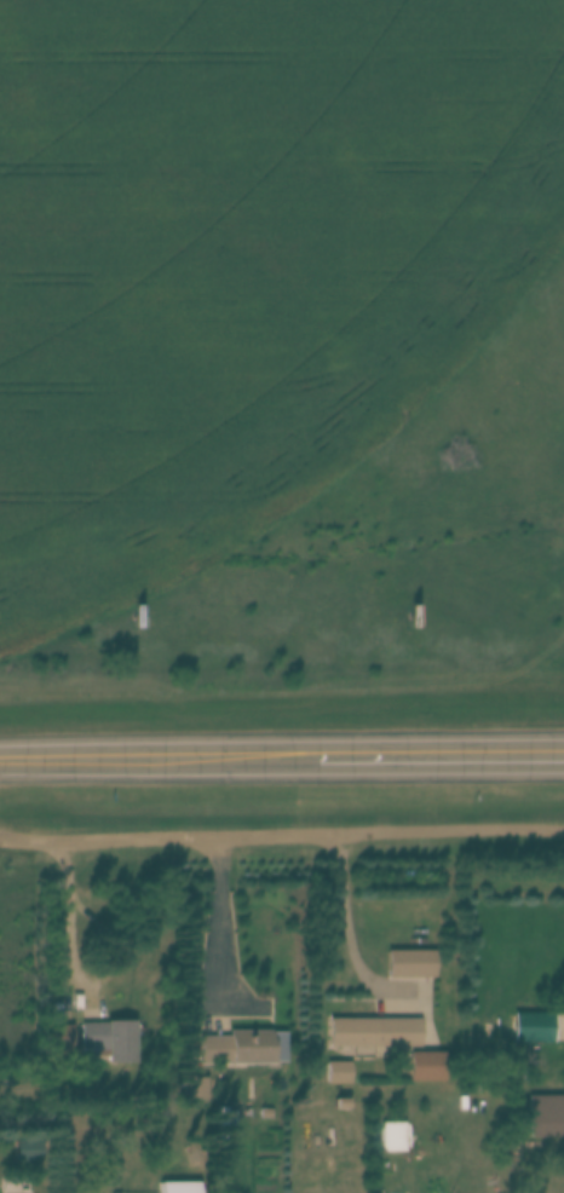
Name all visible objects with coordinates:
road: (441, 745)
road: (159, 749)
road: (281, 831)
road: (217, 920)
building: (410, 963)
building: (534, 1027)
building: (375, 1030)
building: (59, 1036)
building: (110, 1036)
building: (237, 1044)
building: (427, 1065)
building: (340, 1071)
building: (195, 1088)
building: (341, 1102)
building: (266, 1112)
building: (546, 1114)
building: (230, 1126)
building: (392, 1135)
building: (29, 1148)
building: (180, 1187)

